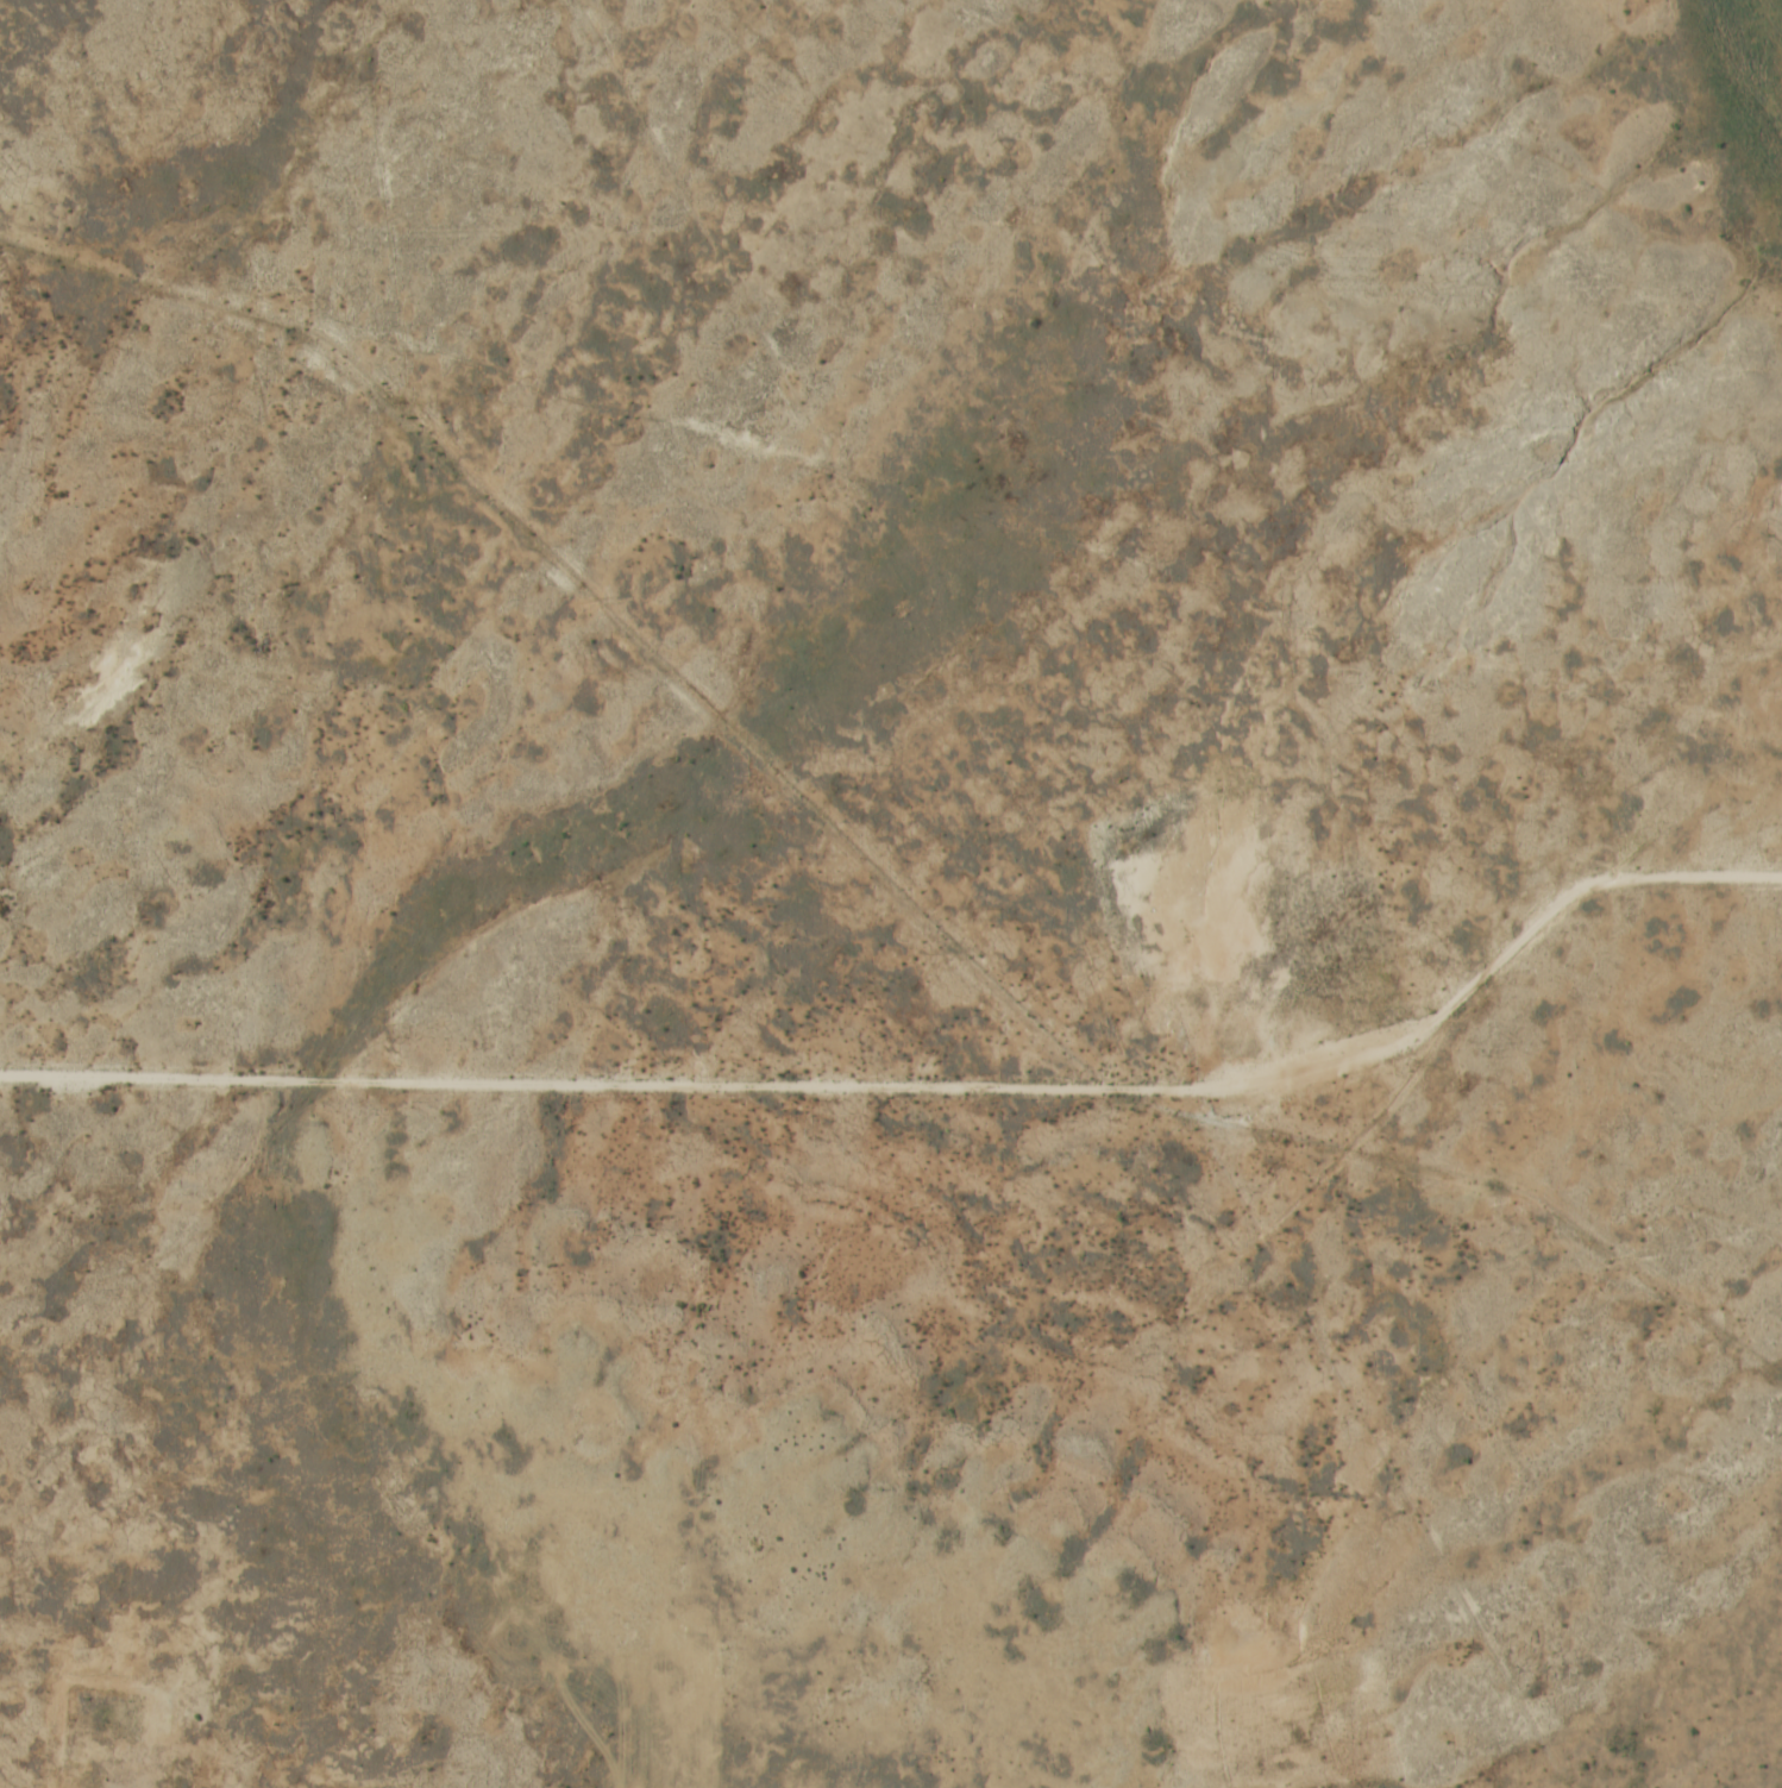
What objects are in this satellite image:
road: (921, 1091)

